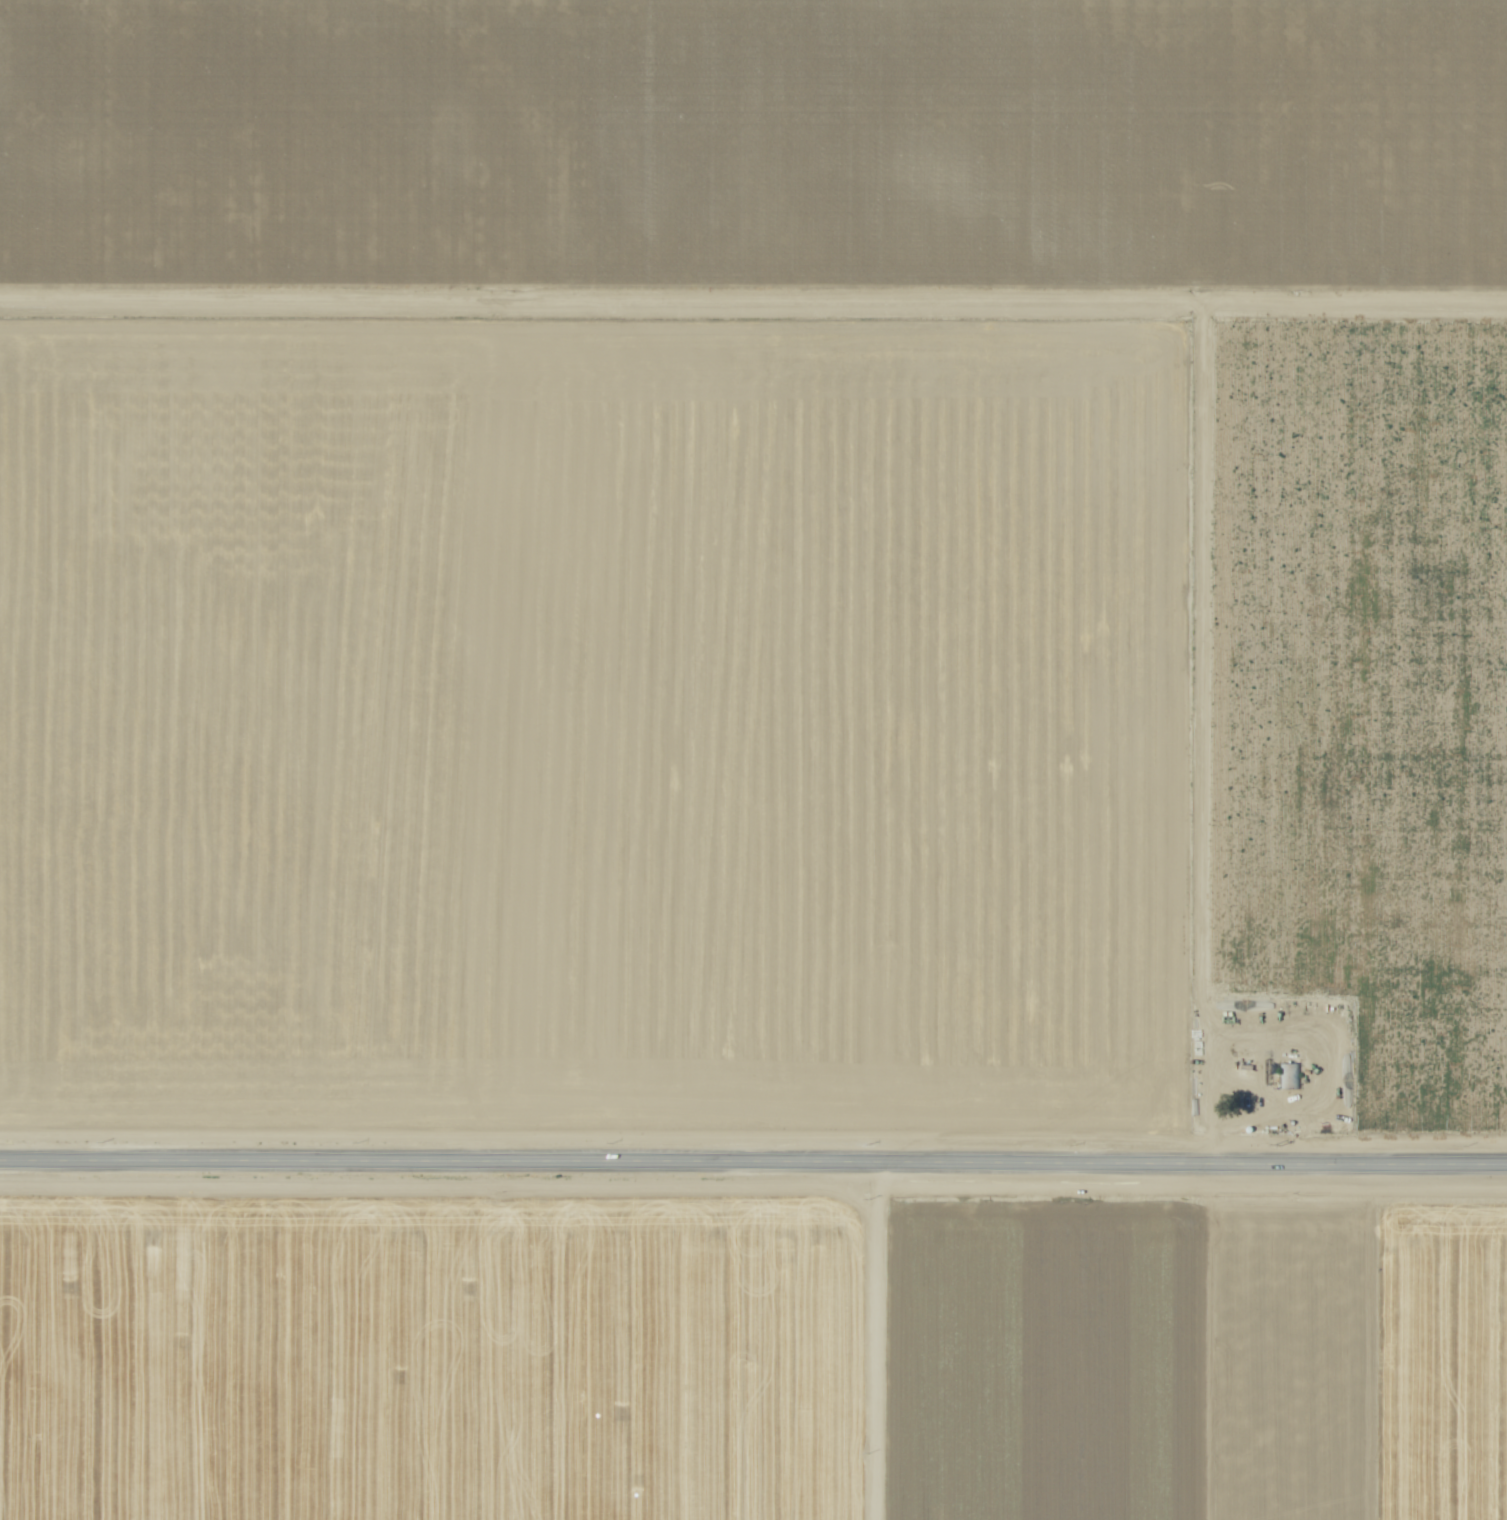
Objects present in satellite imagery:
road: (753, 293)
road: (1193, 726)
road: (753, 1160)
road: (843, 1340)
crop: (752, 1349)

